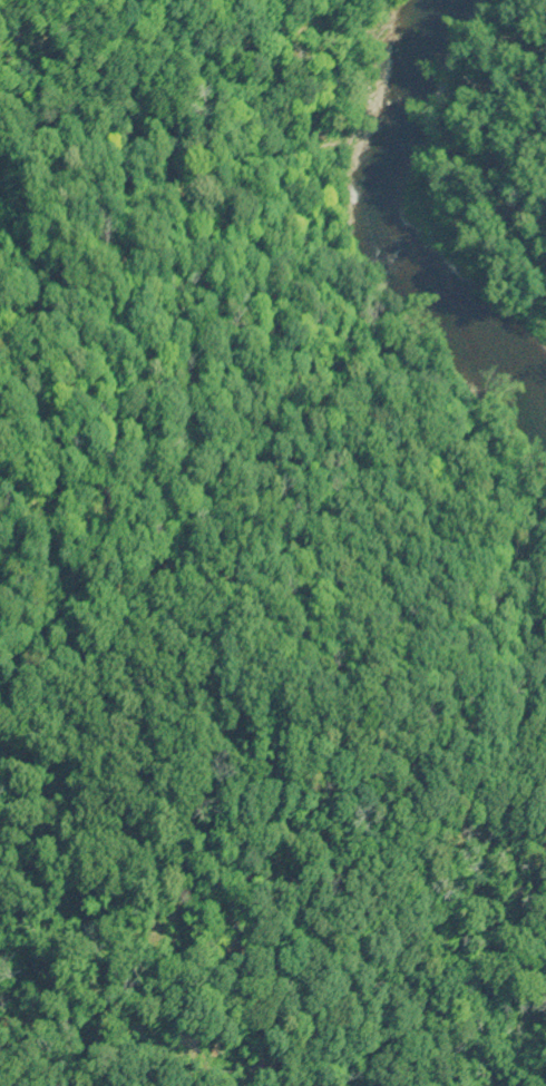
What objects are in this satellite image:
river: (427, 208)

